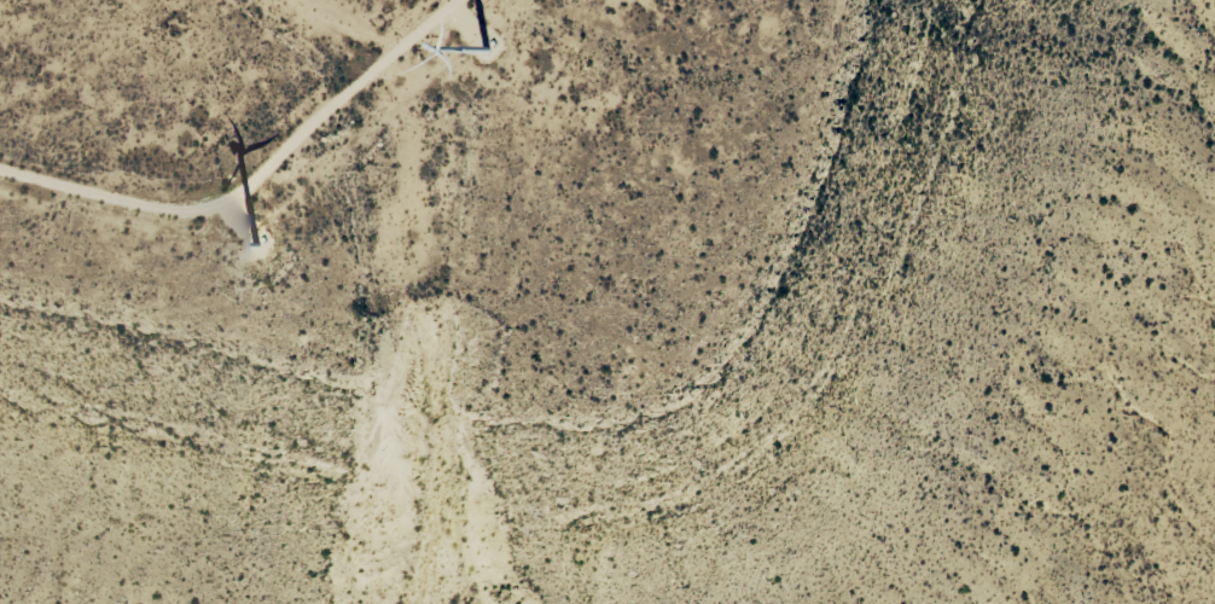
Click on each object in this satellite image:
wind turbine: (486, 43)
wind turbine: (262, 246)

